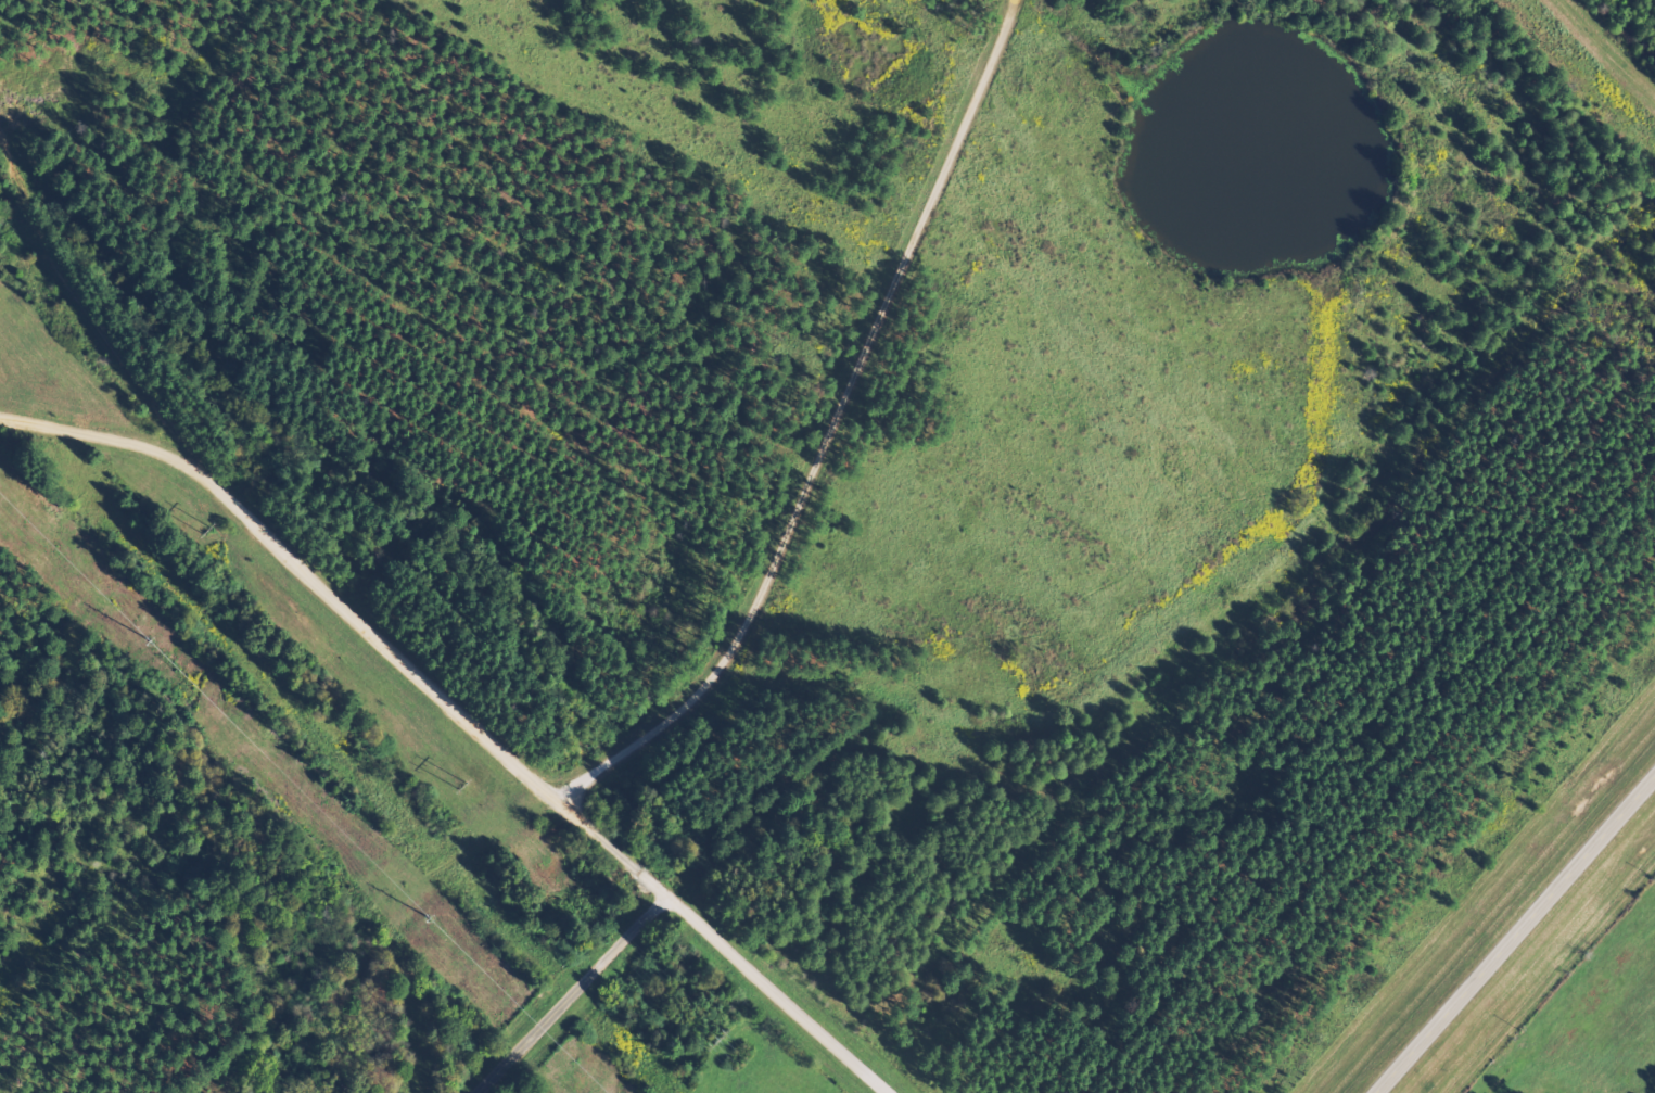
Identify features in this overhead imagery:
road: (829, 433)
power tower: (164, 644)
road: (462, 715)
power tower: (441, 919)
road: (1515, 933)

